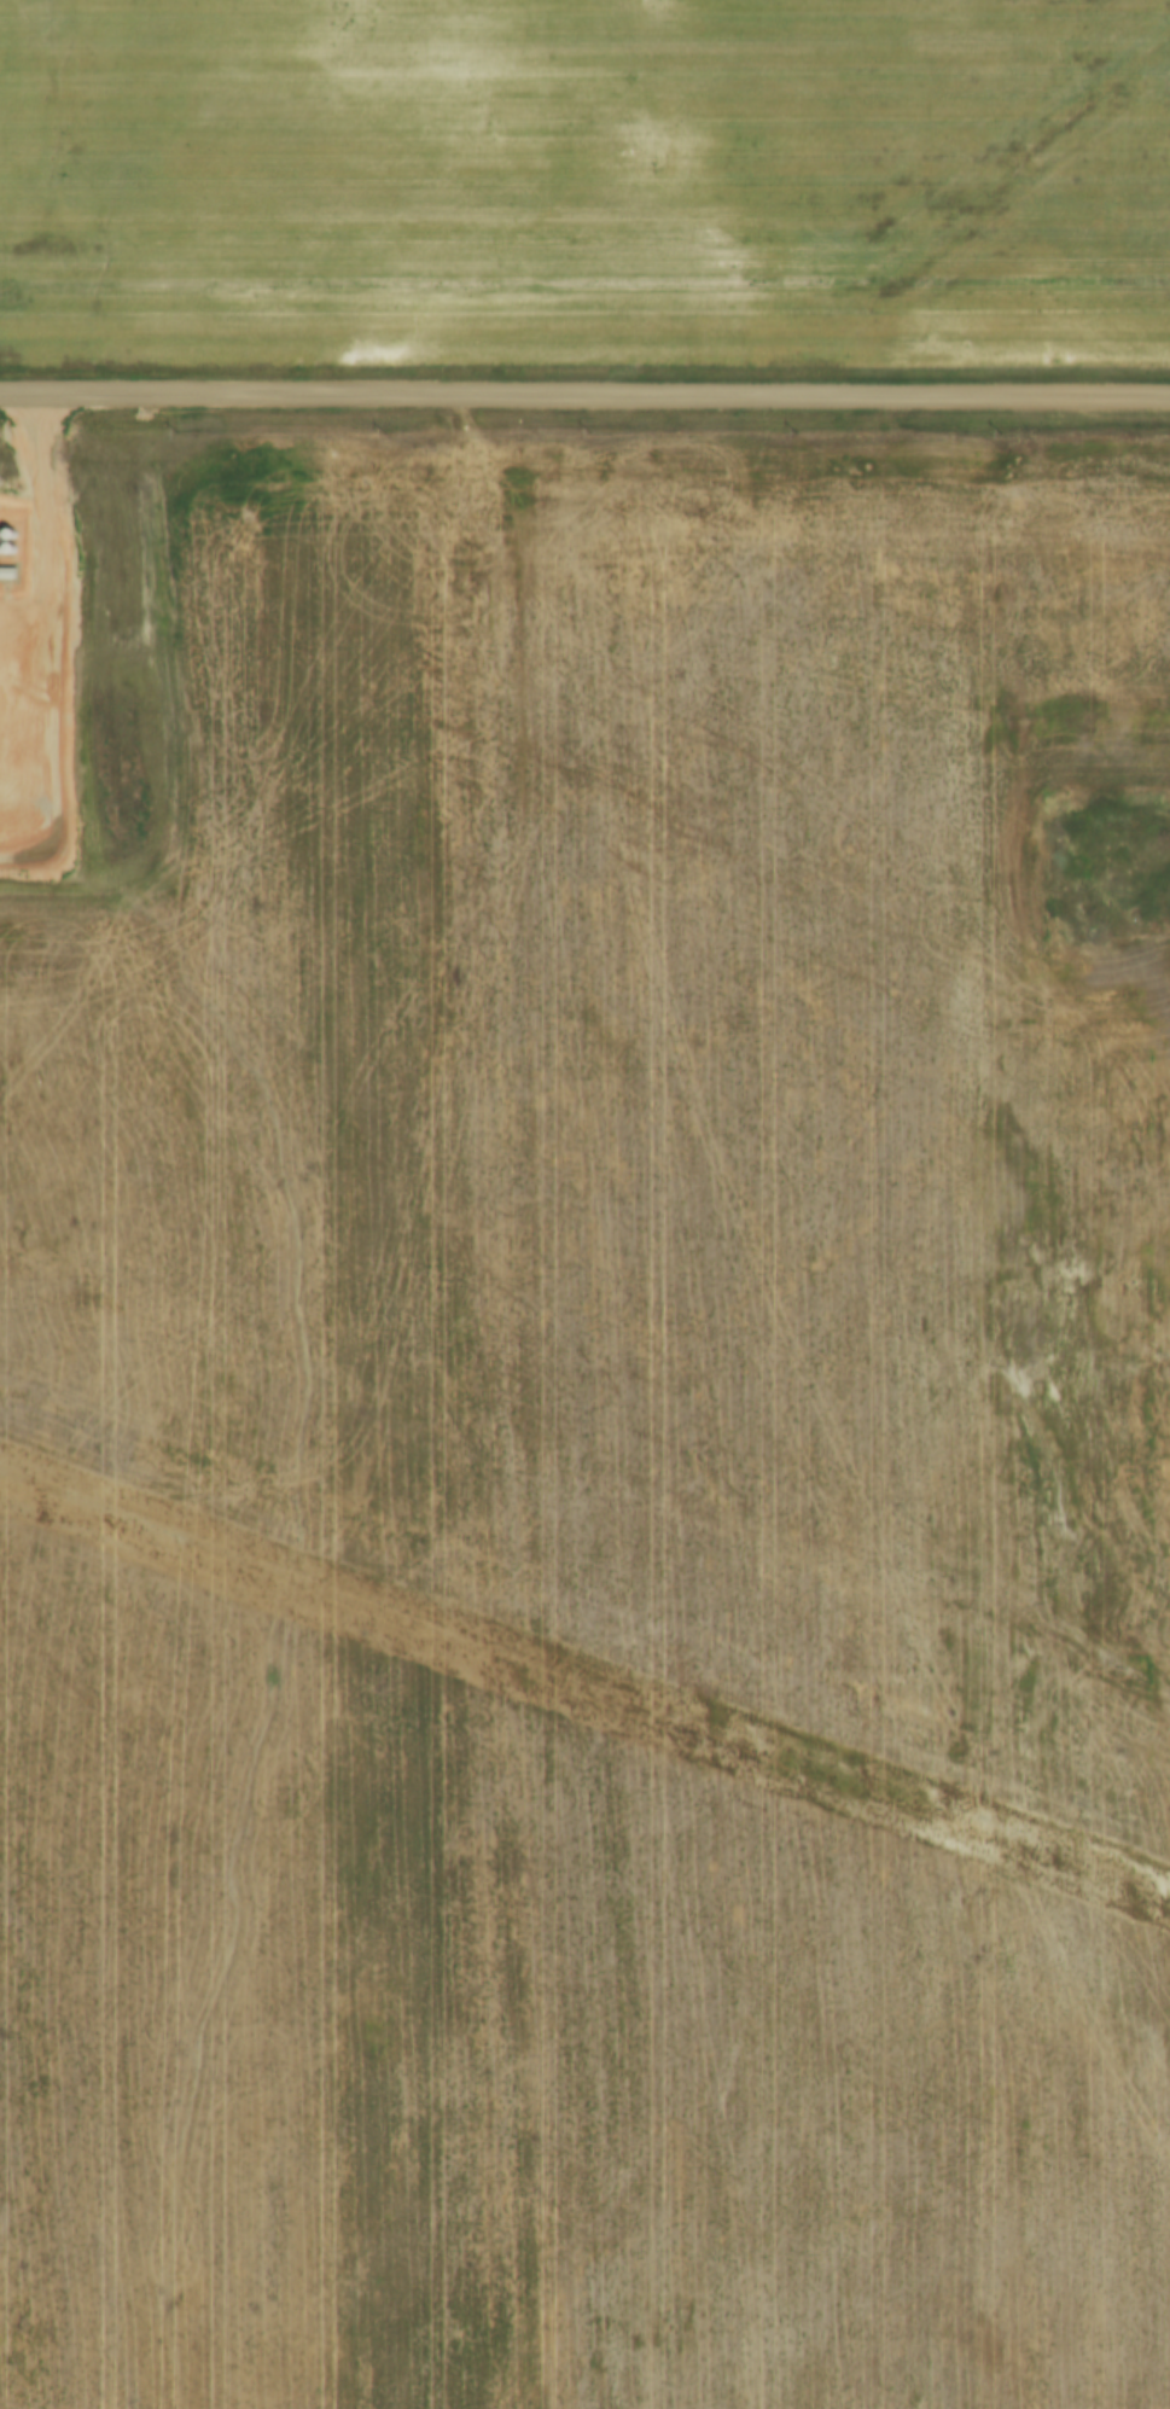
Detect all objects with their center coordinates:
road: (584, 394)

